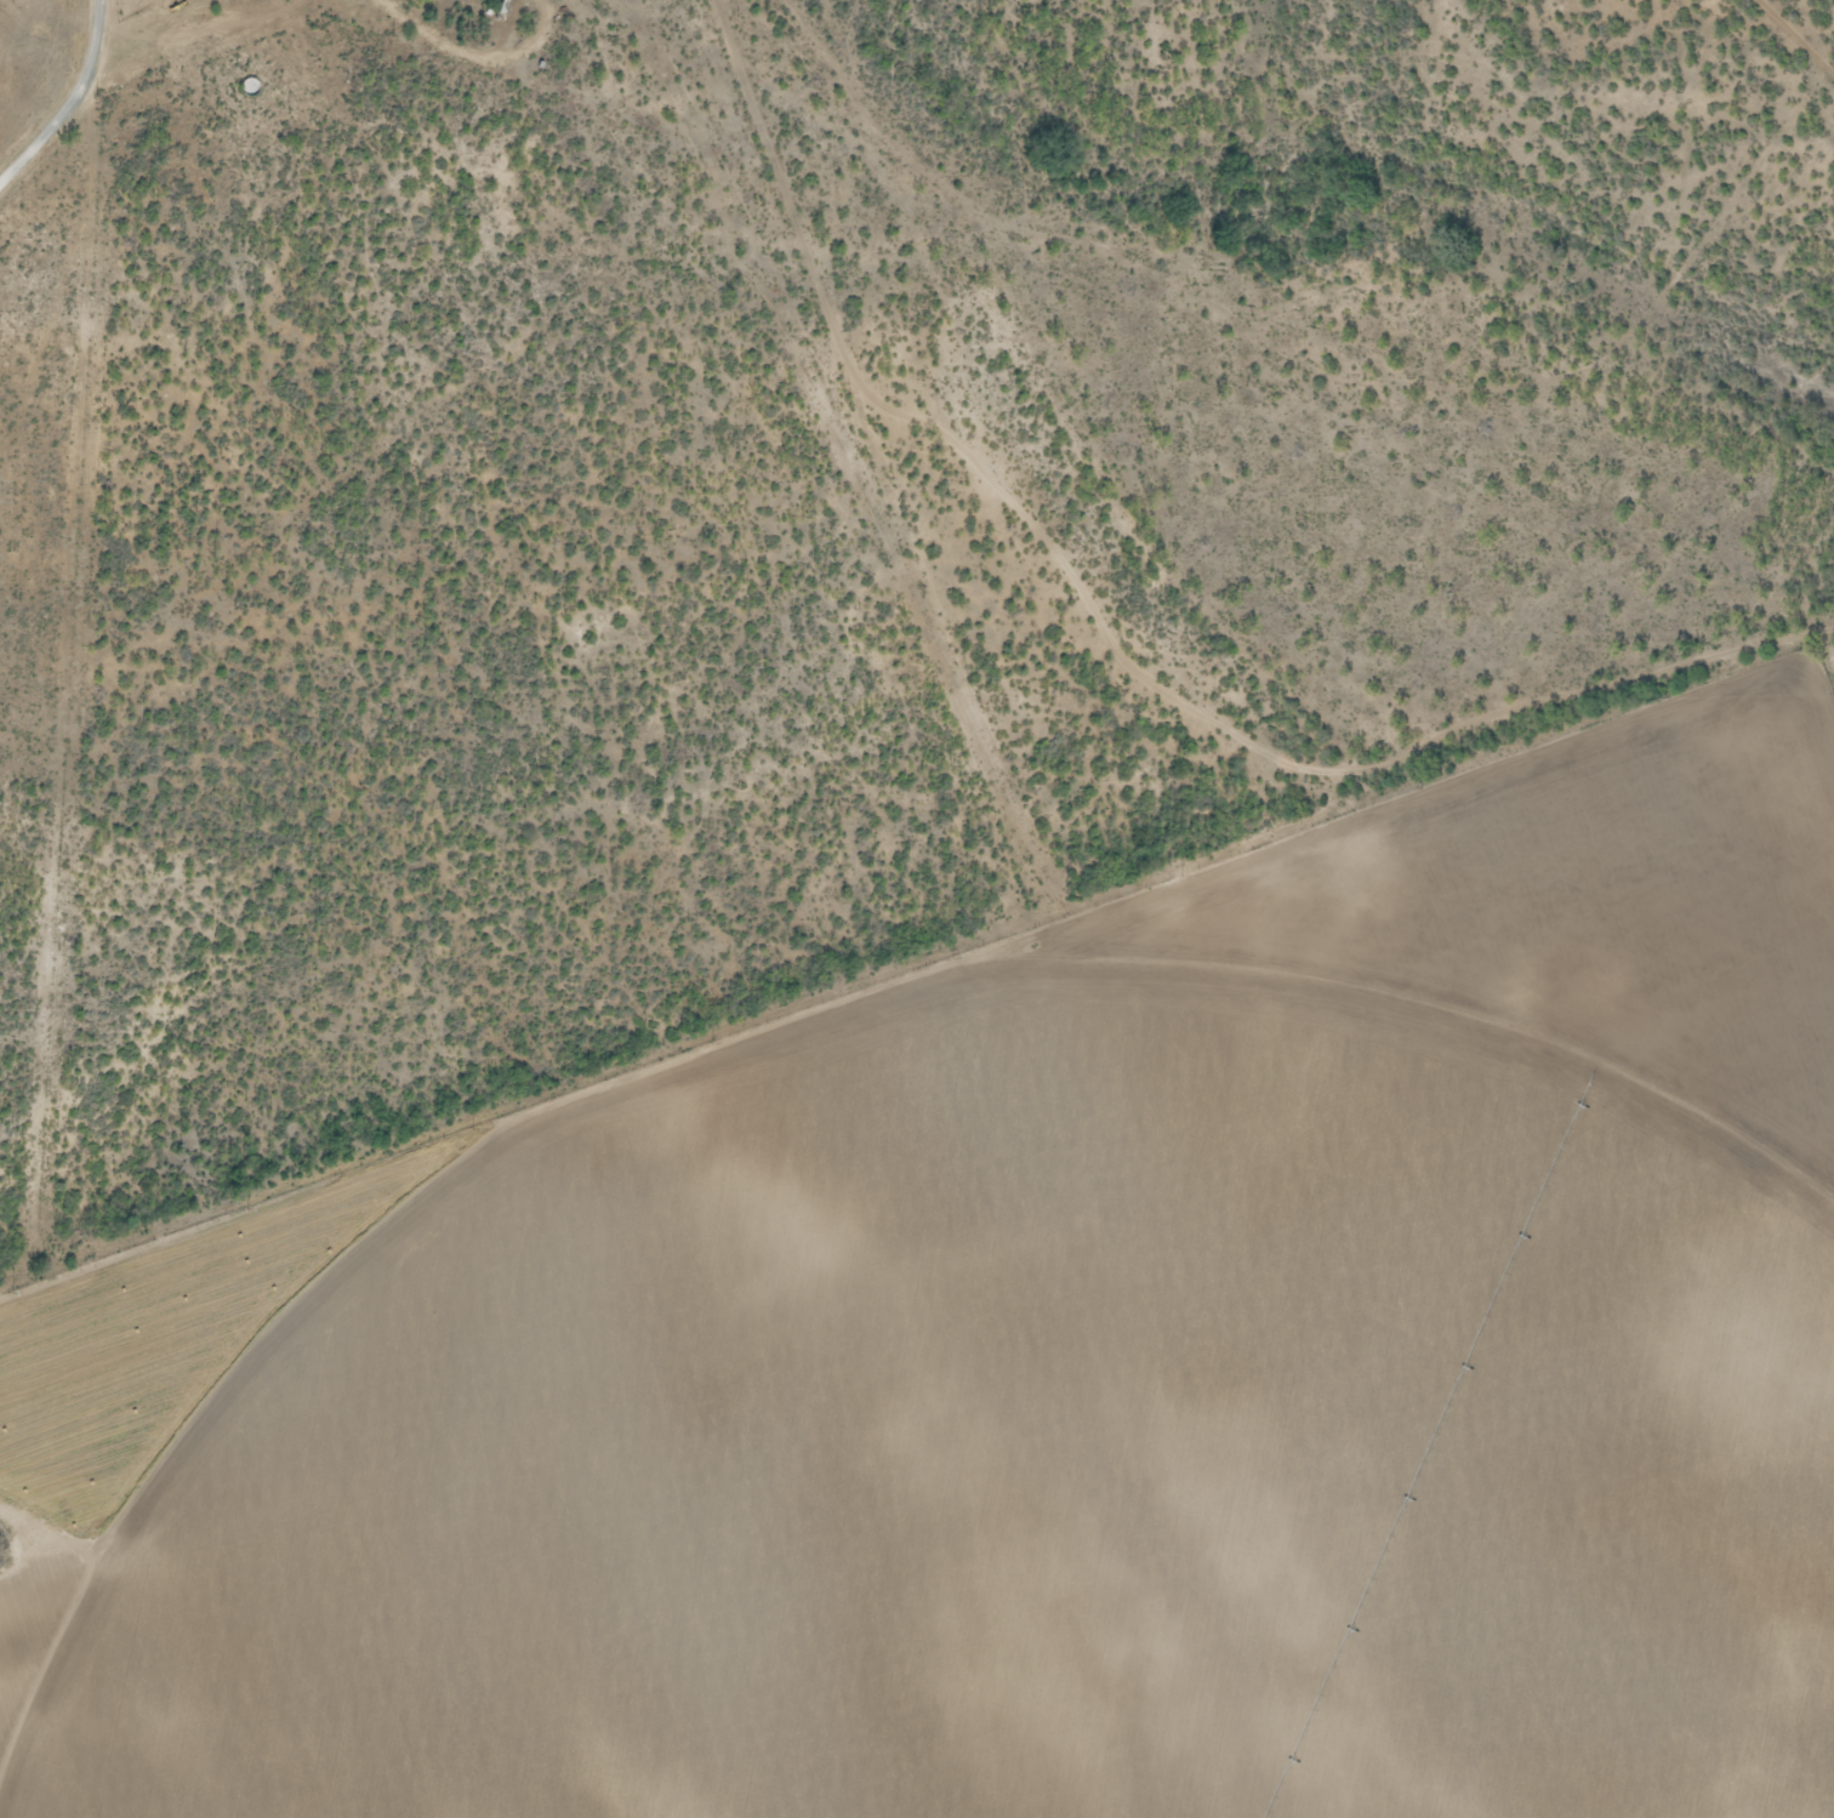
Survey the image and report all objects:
road: (108, 29)
road: (166, 32)
road: (57, 126)
road: (1110, 644)

